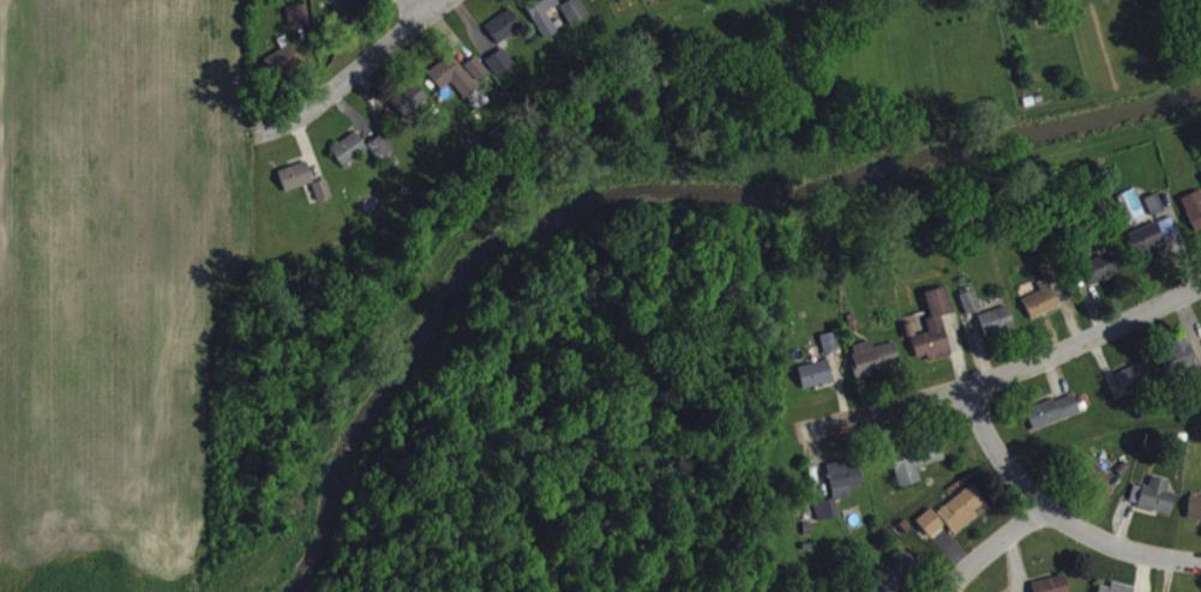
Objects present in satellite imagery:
building: (336, 0)
building: (648, 1)
building: (623, 2)
road: (422, 6)
building: (346, 18)
building: (542, 20)
building: (574, 20)
building: (298, 25)
building: (504, 36)
road: (367, 60)
building: (281, 71)
building: (500, 72)
building: (476, 78)
building: (452, 86)
building: (409, 109)
building: (380, 158)
building: (349, 159)
building: (296, 186)
building: (322, 200)
building: (1154, 213)
building: (1194, 218)
building: (1167, 237)
building: (1147, 248)
building: (1101, 277)
building: (1049, 280)
building: (1041, 310)
building: (971, 312)
building: (997, 331)
building: (932, 338)
building: (829, 352)
building: (1178, 364)
building: (875, 368)
road: (1011, 374)
building: (816, 383)
building: (1135, 387)
building: (1053, 421)
building: (915, 471)
building: (839, 497)
building: (1154, 506)
road: (1056, 515)
building: (963, 519)
building: (1195, 519)
building: (931, 532)
road: (995, 548)
building: (901, 576)
building: (883, 588)
building: (1056, 588)
building: (1111, 591)

